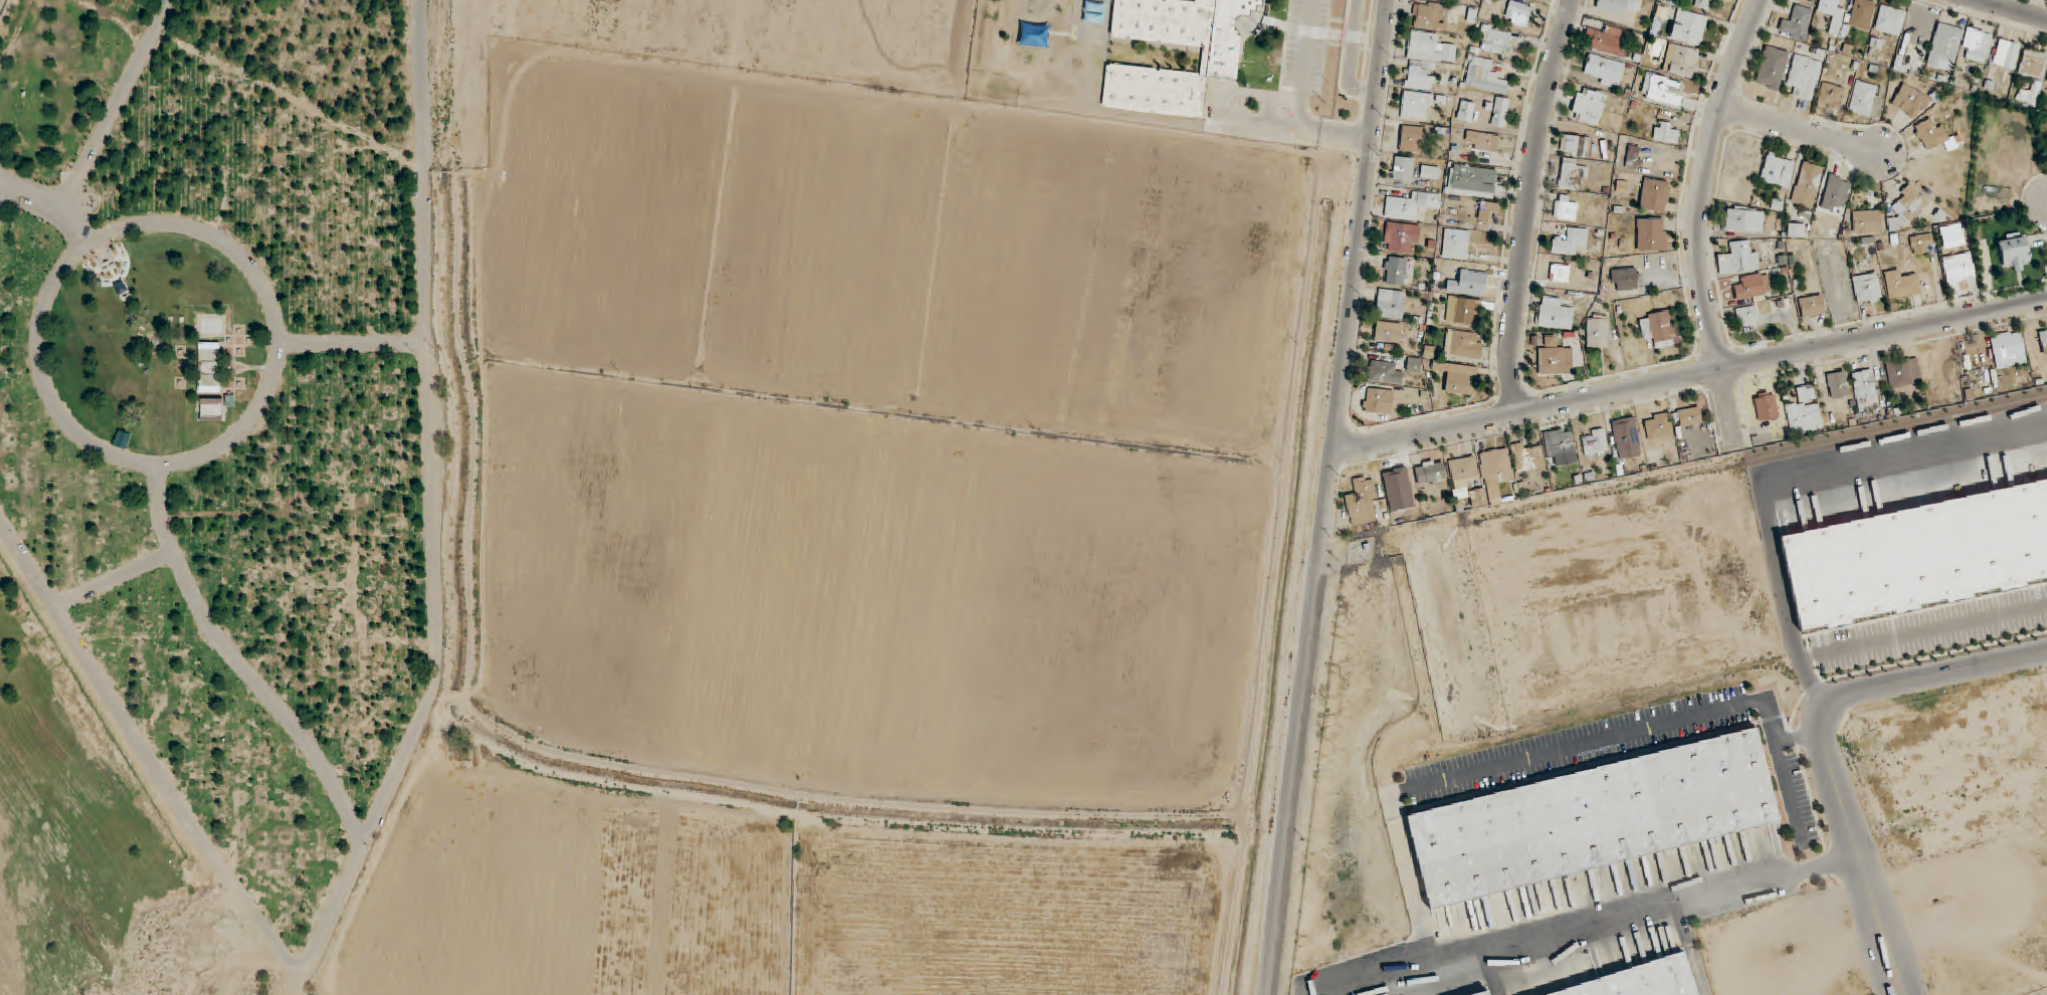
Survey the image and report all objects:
building: (1730, 0)
building: (1618, 6)
road: (2013, 9)
building: (1094, 10)
building: (1519, 14)
building: (1833, 14)
building: (1861, 14)
building: (1430, 16)
building: (1890, 20)
building: (1797, 24)
building: (1689, 27)
building: (1039, 36)
building: (1605, 39)
building: (1495, 40)
building: (1977, 45)
building: (1945, 47)
building: (2007, 54)
building: (1221, 55)
building: (1426, 60)
building: (1681, 61)
building: (2032, 63)
building: (1772, 68)
building: (1604, 70)
building: (1484, 76)
building: (1805, 76)
building: (1663, 90)
building: (2030, 95)
building: (1831, 96)
building: (1863, 98)
road: (1303, 99)
building: (1911, 102)
building: (1416, 105)
building: (1466, 111)
building: (1500, 112)
road: (1799, 130)
building: (1666, 132)
building: (1931, 134)
road: (97, 135)
building: (1412, 139)
building: (1482, 141)
building: (1578, 146)
building: (1635, 156)
building: (2046, 157)
building: (1403, 169)
building: (1778, 170)
building: (1429, 172)
building: (1573, 175)
road: (1705, 180)
building: (1473, 181)
building: (1808, 185)
building: (1654, 195)
road: (1529, 203)
building: (1412, 205)
building: (1909, 205)
building: (1566, 208)
building: (1487, 210)
building: (1829, 214)
building: (1745, 220)
building: (1867, 221)
road: (75, 227)
building: (1797, 230)
building: (1651, 234)
building: (1402, 238)
building: (1952, 238)
building: (1570, 241)
road: (423, 244)
building: (1454, 244)
building: (1922, 244)
building: (2014, 252)
building: (1739, 259)
building: (1959, 268)
building: (1395, 271)
building: (1558, 273)
building: (1625, 279)
building: (1901, 284)
building: (1753, 285)
building: (1867, 288)
building: (1390, 304)
building: (1812, 306)
building: (1462, 311)
building: (1554, 314)
building: (1747, 317)
building: (1660, 329)
building: (1598, 331)
road: (1884, 331)
building: (1388, 332)
building: (2043, 341)
building: (1463, 345)
building: (2008, 349)
building: (1555, 361)
building: (1414, 365)
building: (209, 367)
building: (1385, 373)
building: (1903, 373)
building: (1459, 378)
building: (1838, 385)
building: (1865, 390)
building: (1378, 401)
building: (1766, 406)
road: (1528, 407)
road: (1730, 409)
building: (1805, 412)
park: (230, 413)
road: (60, 415)
building: (1690, 417)
building: (1659, 427)
building: (1626, 435)
building: (1559, 443)
building: (1594, 443)
building: (1527, 458)
building: (1430, 472)
building: (1498, 478)
road: (1820, 478)
road: (1329, 497)
building: (1363, 501)
road: (1923, 630)
road: (1814, 686)
road: (1825, 743)
building: (1591, 819)
road: (1645, 906)
building: (1638, 979)
building: (1481, 993)
building: (1491, 994)

